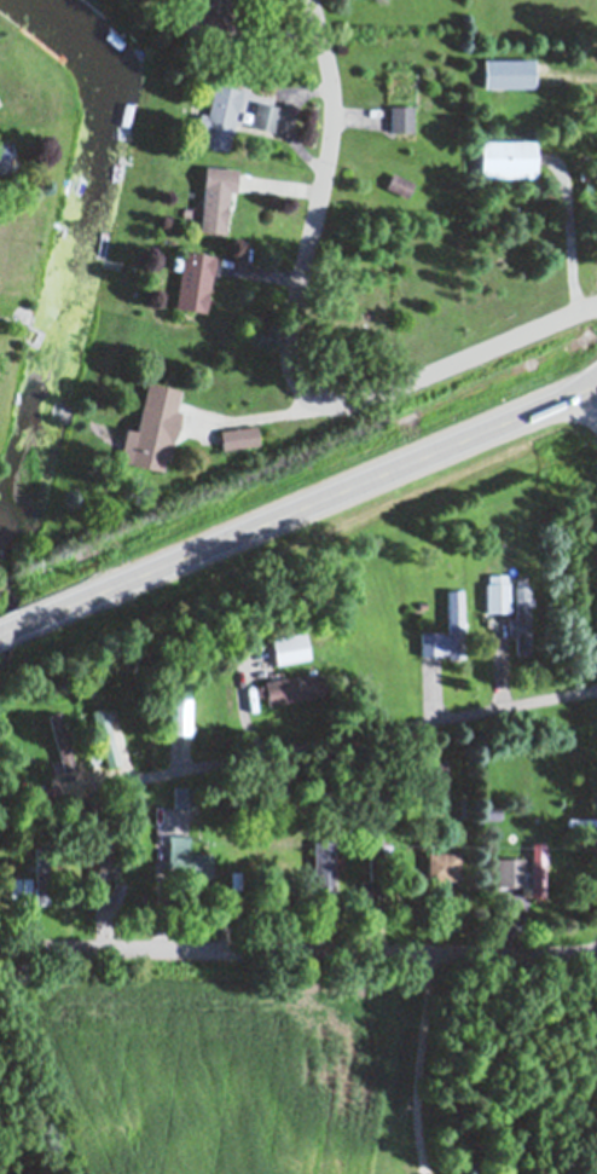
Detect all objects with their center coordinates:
building: (210, 2)
building: (509, 74)
building: (219, 117)
building: (265, 117)
building: (401, 118)
building: (4, 157)
building: (508, 158)
building: (216, 198)
building: (193, 279)
road: (291, 351)
road: (253, 415)
building: (152, 427)
building: (238, 435)
road: (298, 507)
building: (497, 591)
building: (456, 609)
building: (522, 619)
building: (290, 647)
building: (291, 687)
building: (180, 716)
building: (104, 736)
building: (63, 738)
road: (336, 739)
building: (435, 775)
building: (181, 797)
building: (444, 864)
building: (323, 866)
building: (538, 869)
building: (510, 871)
building: (19, 887)
building: (371, 889)
road: (298, 947)
road: (422, 1060)

